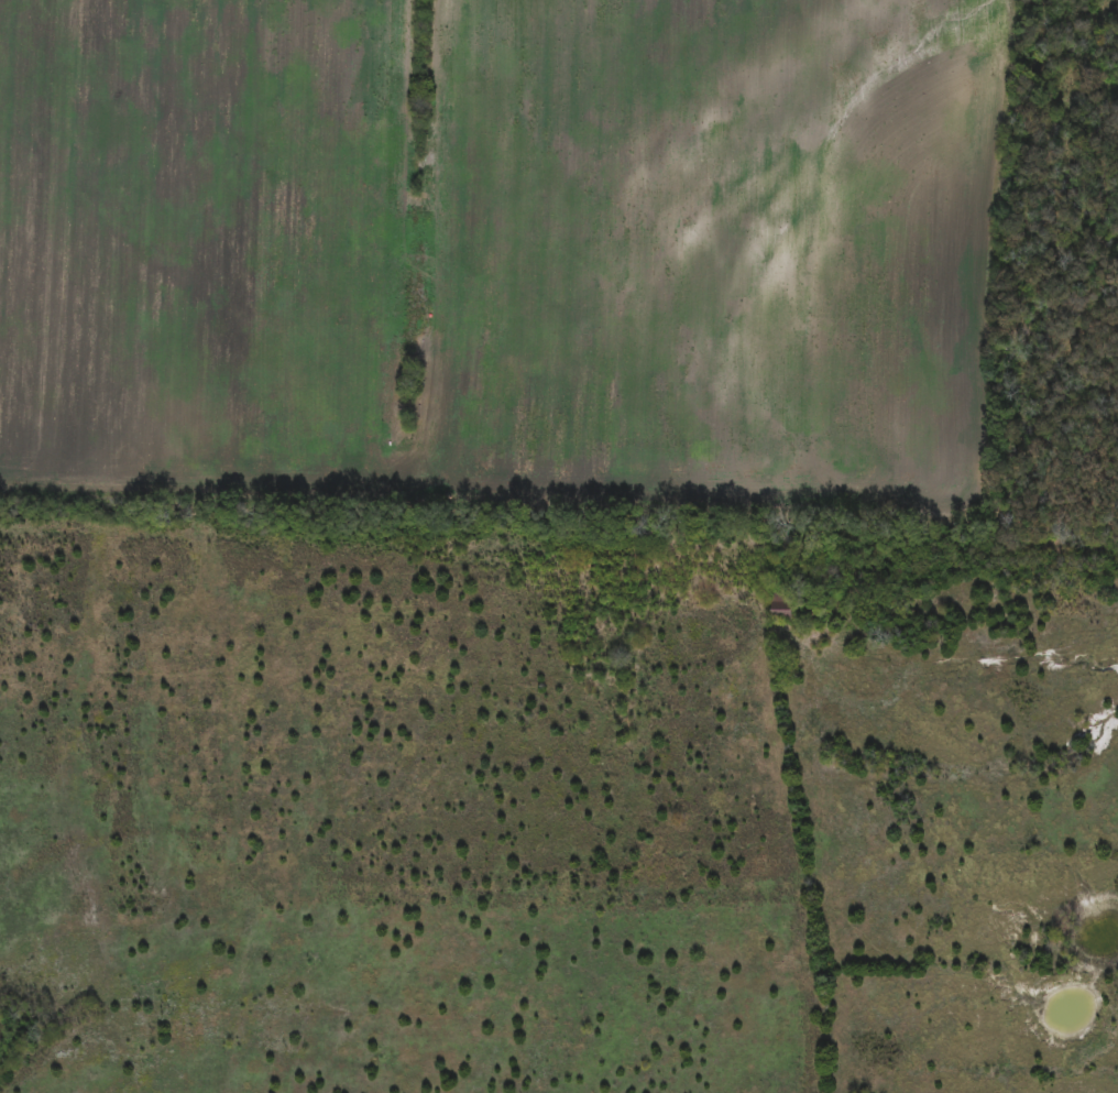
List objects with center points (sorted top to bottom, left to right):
building: (778, 608)

